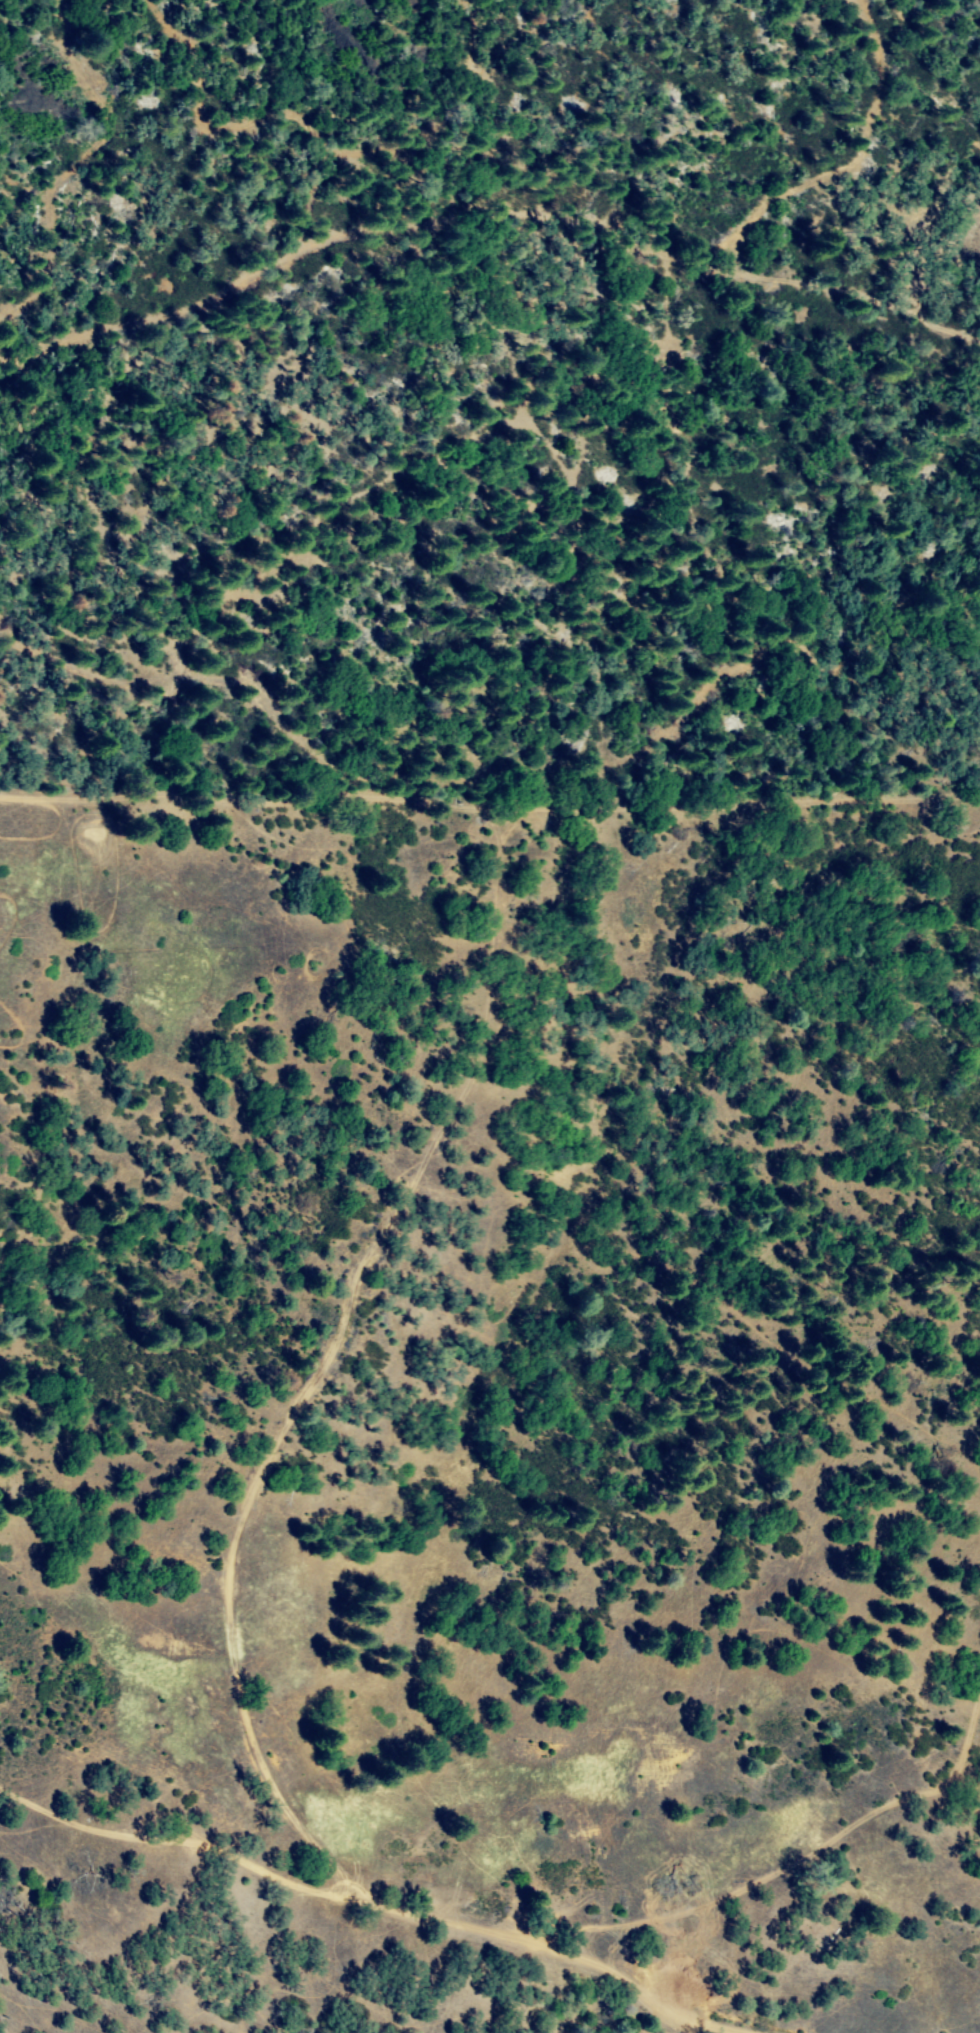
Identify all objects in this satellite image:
road: (365, 1909)

